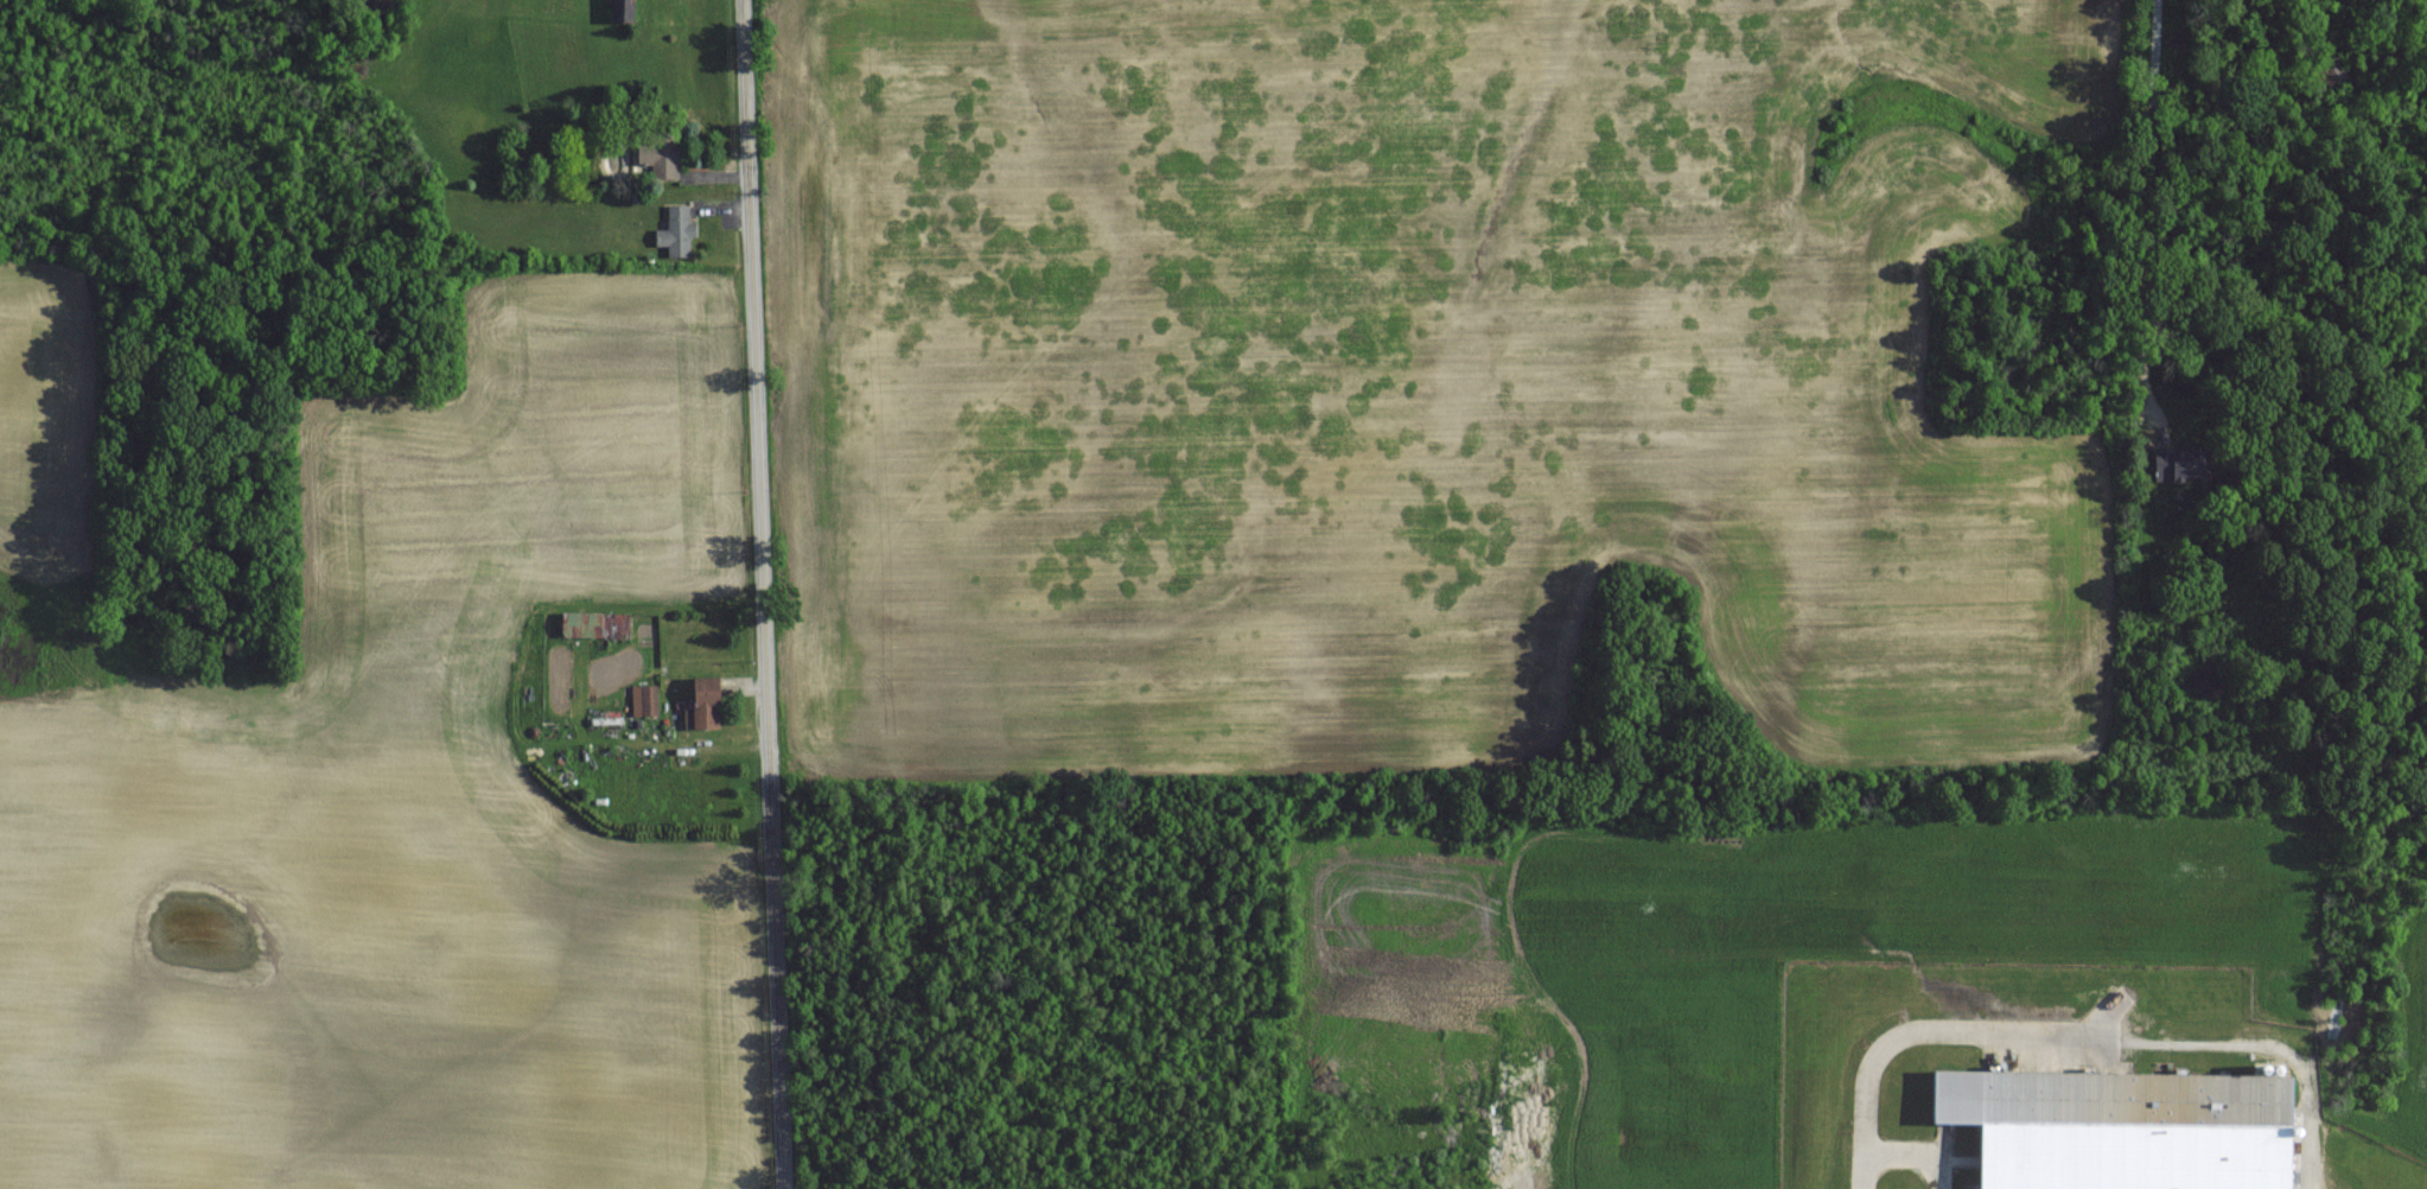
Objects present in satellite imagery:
road: (2149, 37)
building: (657, 160)
building: (676, 231)
road: (764, 594)
building: (700, 701)
road: (2081, 1038)
building: (2117, 1128)
road: (1915, 1155)

